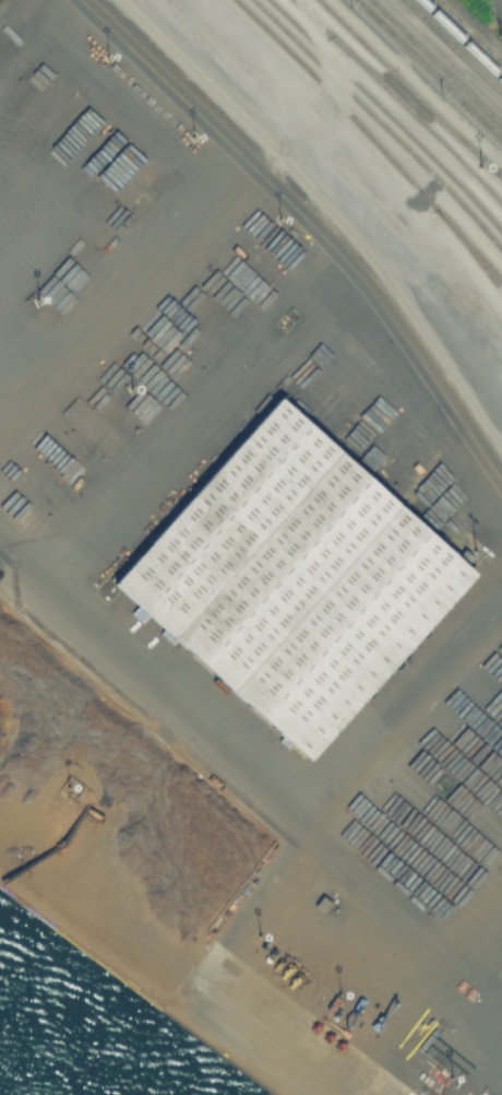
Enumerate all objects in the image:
wastewater plant: (494, 9)
railway: (469, 30)
railway: (462, 38)
railway: (454, 45)
railway: (444, 55)
railway: (438, 60)
railway: (429, 69)
railway: (420, 78)
railway: (409, 89)
railway: (398, 102)
railway: (389, 115)
railway: (380, 122)
railway: (370, 141)
railway: (330, 209)
road: (309, 219)
railway: (488, 267)
road: (123, 271)
building: (294, 579)
pier: (47, 880)
pier: (211, 1005)

